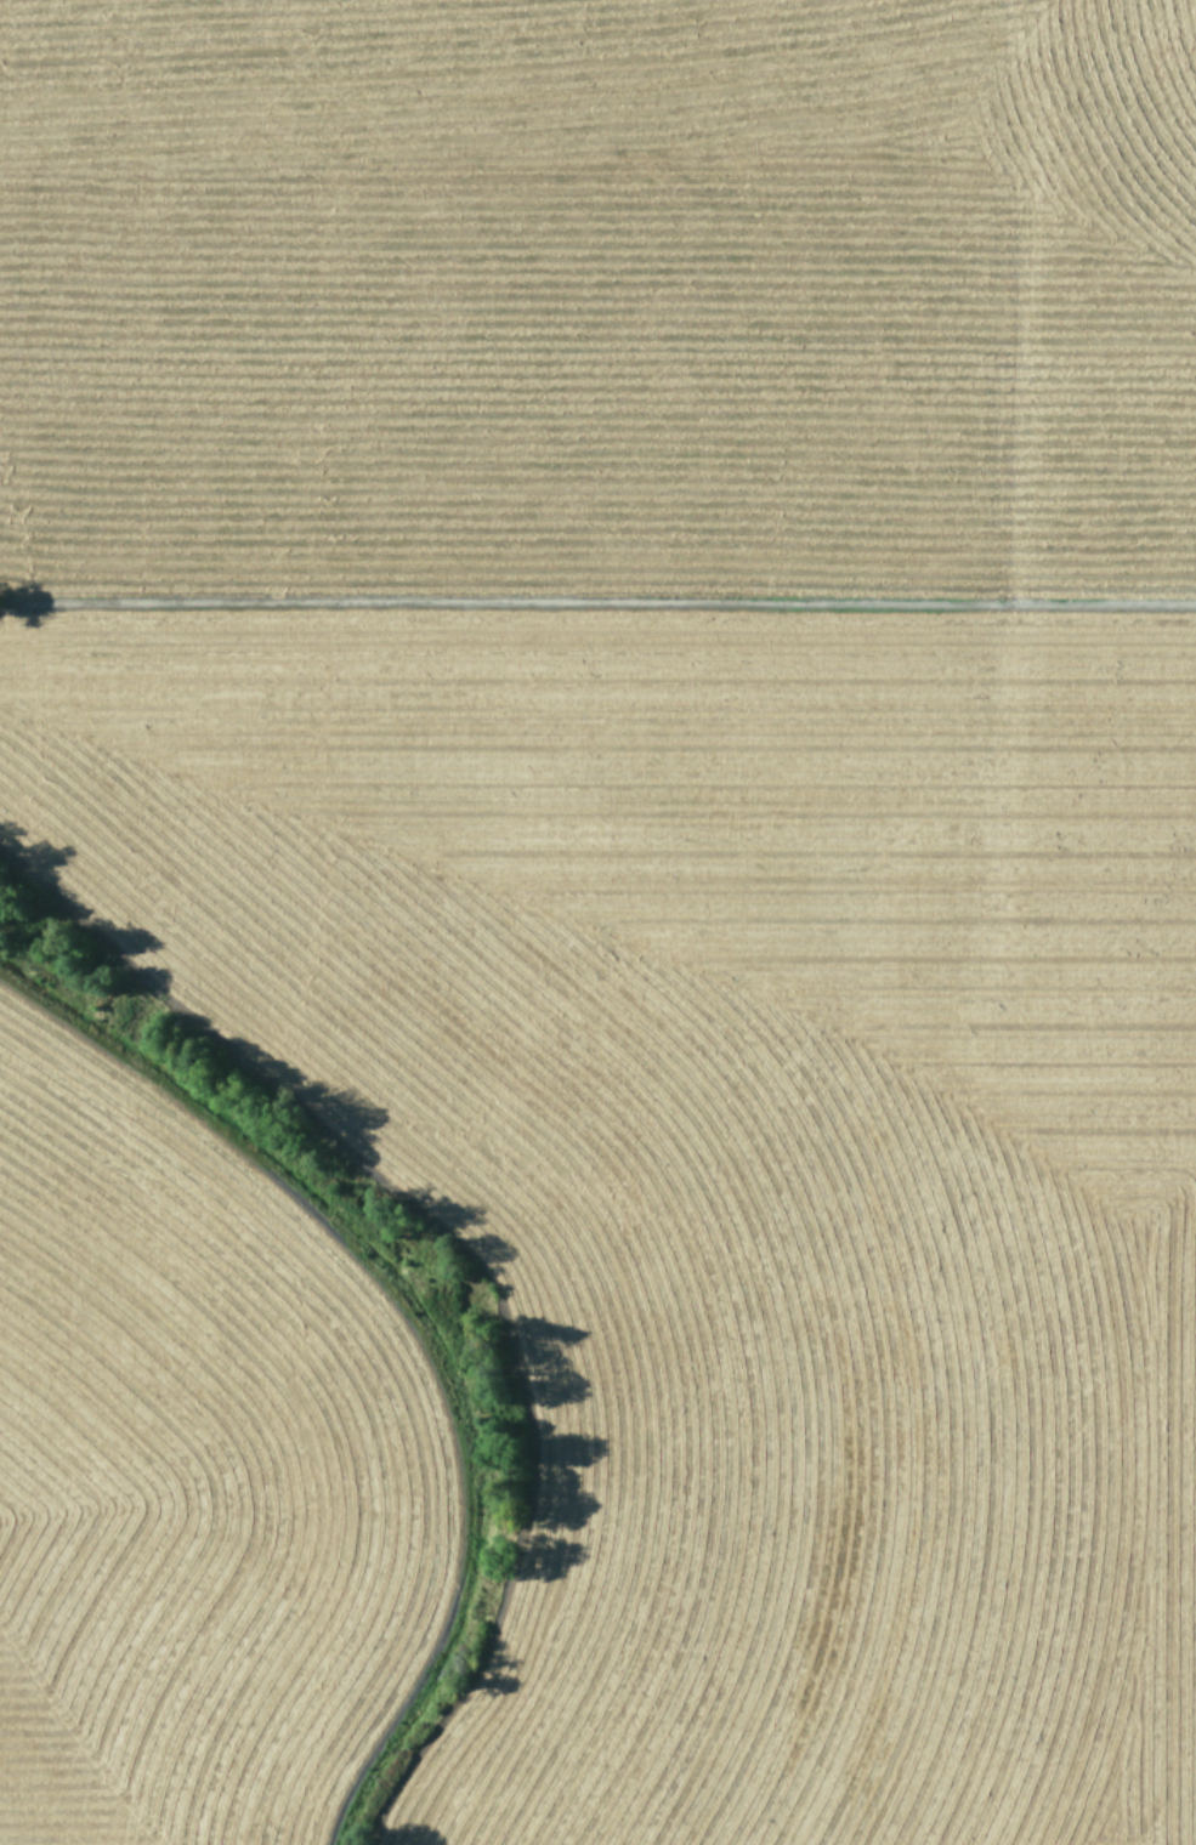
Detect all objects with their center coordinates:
crop: (597, 923)

